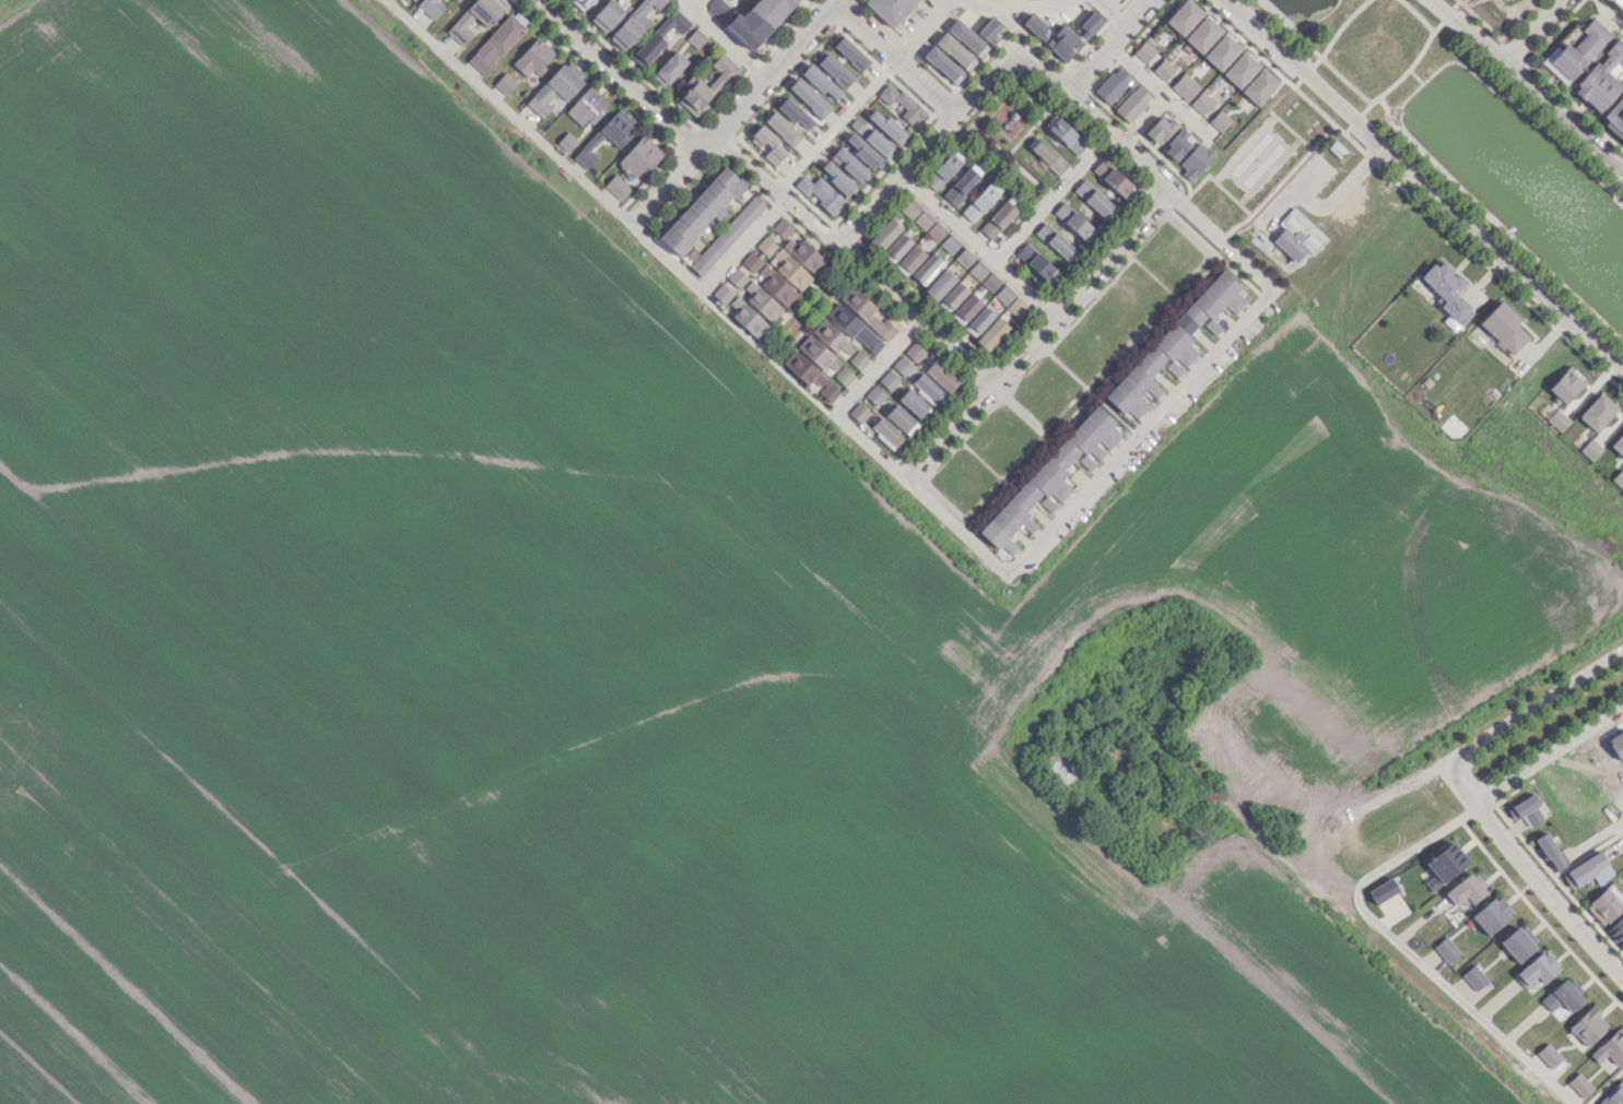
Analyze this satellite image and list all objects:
building: (456, 0)
building: (580, 3)
road: (690, 3)
building: (1618, 3)
road: (1015, 4)
building: (716, 7)
building: (430, 8)
building: (890, 9)
road: (1110, 12)
park: (1499, 13)
building: (607, 15)
building: (1184, 16)
building: (461, 21)
building: (757, 21)
building: (1090, 22)
building: (633, 24)
building: (1034, 24)
road: (922, 29)
building: (988, 29)
road: (1533, 32)
building: (1202, 34)
building: (658, 37)
building: (695, 37)
building: (966, 37)
road: (720, 38)
building: (1062, 41)
building: (495, 44)
road: (1106, 46)
building: (954, 50)
building: (1144, 51)
building: (1221, 51)
building: (1576, 51)
building: (850, 52)
building: (532, 57)
road: (894, 57)
building: (942, 64)
building: (668, 68)
building: (1163, 69)
building: (1240, 69)
building: (834, 70)
building: (721, 71)
road: (615, 74)
road: (1049, 78)
building: (1601, 79)
building: (821, 82)
building: (504, 83)
building: (1113, 84)
road: (1528, 85)
building: (1185, 86)
building: (1259, 86)
building: (555, 87)
road: (1157, 88)
building: (694, 97)
building: (808, 97)
building: (901, 103)
building: (1132, 103)
building: (1201, 103)
building: (586, 107)
road: (731, 111)
building: (795, 114)
building: (1614, 117)
road: (1143, 119)
building: (1220, 120)
road: (835, 123)
building: (857, 126)
building: (887, 127)
building: (781, 128)
building: (1161, 129)
building: (615, 136)
building: (566, 141)
building: (773, 143)
building: (879, 143)
building: (1178, 144)
building: (861, 150)
building: (1046, 154)
building: (638, 157)
building: (1195, 159)
building: (848, 164)
building: (942, 169)
building: (836, 177)
building: (1113, 178)
road: (1423, 180)
building: (962, 183)
building: (615, 187)
road: (589, 188)
road: (1293, 190)
road: (1344, 190)
building: (820, 192)
road: (1050, 195)
building: (1094, 199)
building: (979, 201)
building: (701, 210)
building: (915, 213)
building: (997, 219)
building: (1073, 222)
building: (781, 228)
building: (934, 230)
building: (883, 234)
building: (726, 236)
building: (1297, 237)
building: (1055, 241)
building: (949, 244)
building: (765, 246)
road: (976, 246)
building: (896, 247)
building: (804, 254)
road: (851, 256)
building: (963, 257)
building: (908, 260)
building: (750, 262)
building: (1035, 262)
building: (926, 269)
building: (790, 270)
building: (977, 270)
road: (1483, 272)
building: (736, 277)
building: (989, 281)
building: (939, 284)
building: (778, 288)
building: (1448, 289)
building: (721, 293)
building: (1004, 294)
building: (952, 296)
building: (761, 301)
building: (1016, 306)
building: (965, 308)
building: (867, 313)
building: (746, 317)
building: (978, 321)
building: (854, 328)
building: (1504, 328)
building: (991, 333)
road: (1543, 333)
road: (1036, 334)
building: (832, 336)
building: (1175, 342)
building: (914, 352)
building: (816, 353)
building: (857, 359)
road: (877, 365)
building: (901, 365)
building: (802, 368)
building: (1174, 368)
building: (843, 376)
building: (940, 376)
road: (1592, 379)
building: (887, 380)
building: (1566, 383)
building: (926, 388)
building: (828, 392)
building: (874, 394)
building: (912, 402)
building: (858, 412)
building: (1597, 412)
building: (901, 419)
building: (1557, 419)
road: (1611, 422)
building: (885, 432)
building: (1086, 439)
road: (870, 444)
building: (1618, 444)
building: (1590, 449)
building: (1086, 462)
building: (1619, 477)
road: (1093, 483)
building: (1025, 503)
road: (1532, 705)
road: (1546, 755)
building: (1525, 810)
road: (1620, 828)
road: (1600, 834)
building: (1550, 851)
building: (1444, 865)
building: (1584, 869)
road: (1530, 871)
building: (1383, 890)
building: (1466, 890)
building: (1603, 905)
building: (1492, 914)
building: (1616, 930)
building: (1518, 942)
building: (1445, 949)
road: (1406, 950)
building: (1536, 969)
building: (1473, 976)
building: (1562, 996)
building: (1587, 1025)
building: (1610, 1047)
building: (1548, 1055)
building: (1579, 1084)
building: (1613, 1094)

